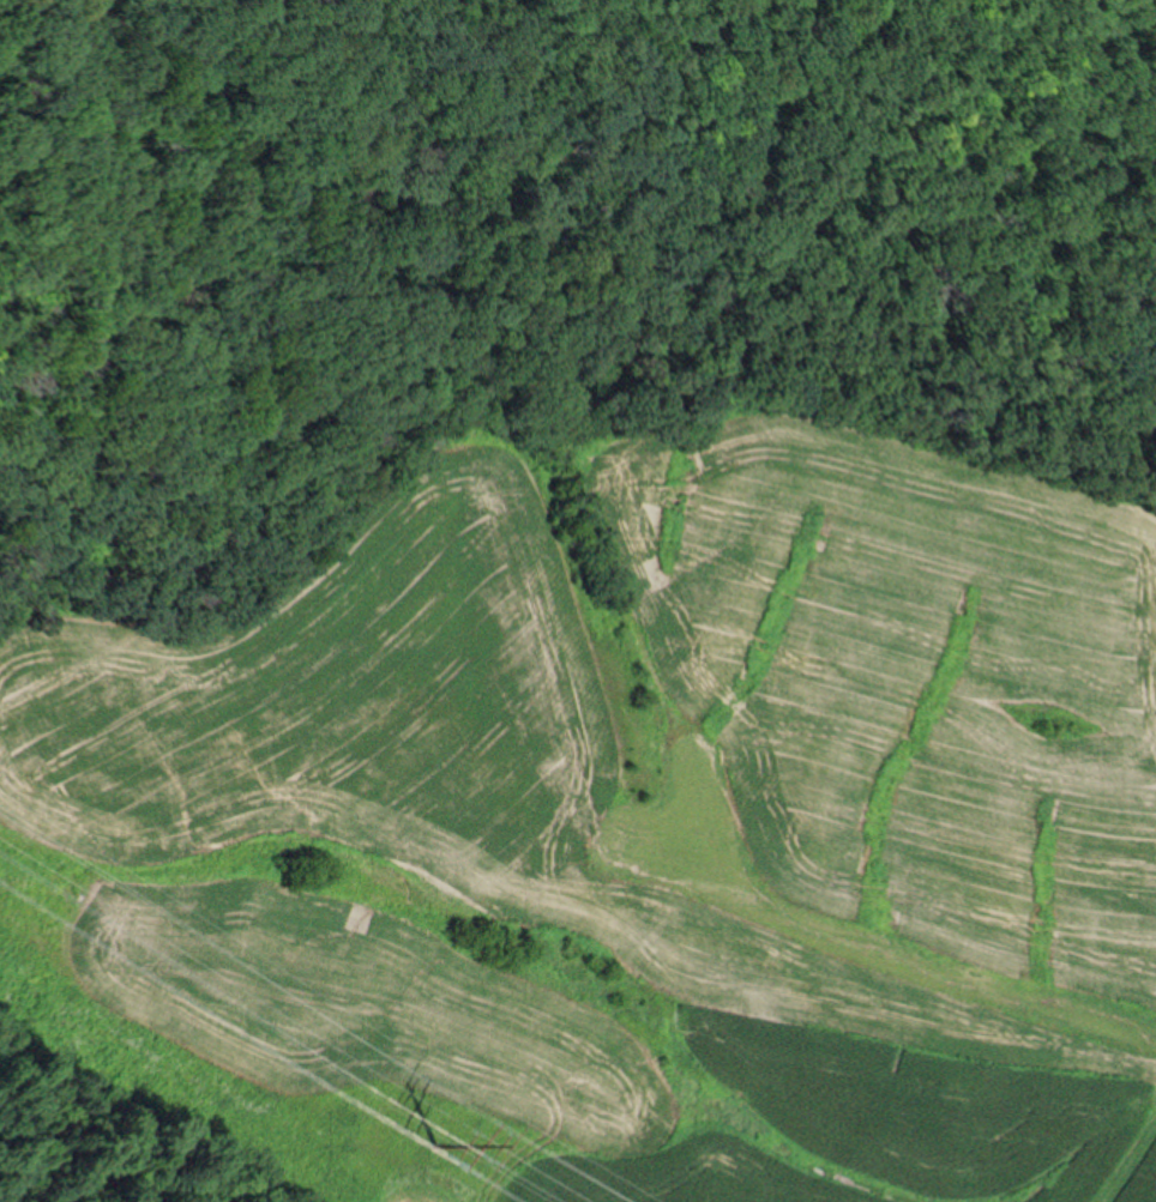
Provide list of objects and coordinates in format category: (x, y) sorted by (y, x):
power tower: (441, 1138)

